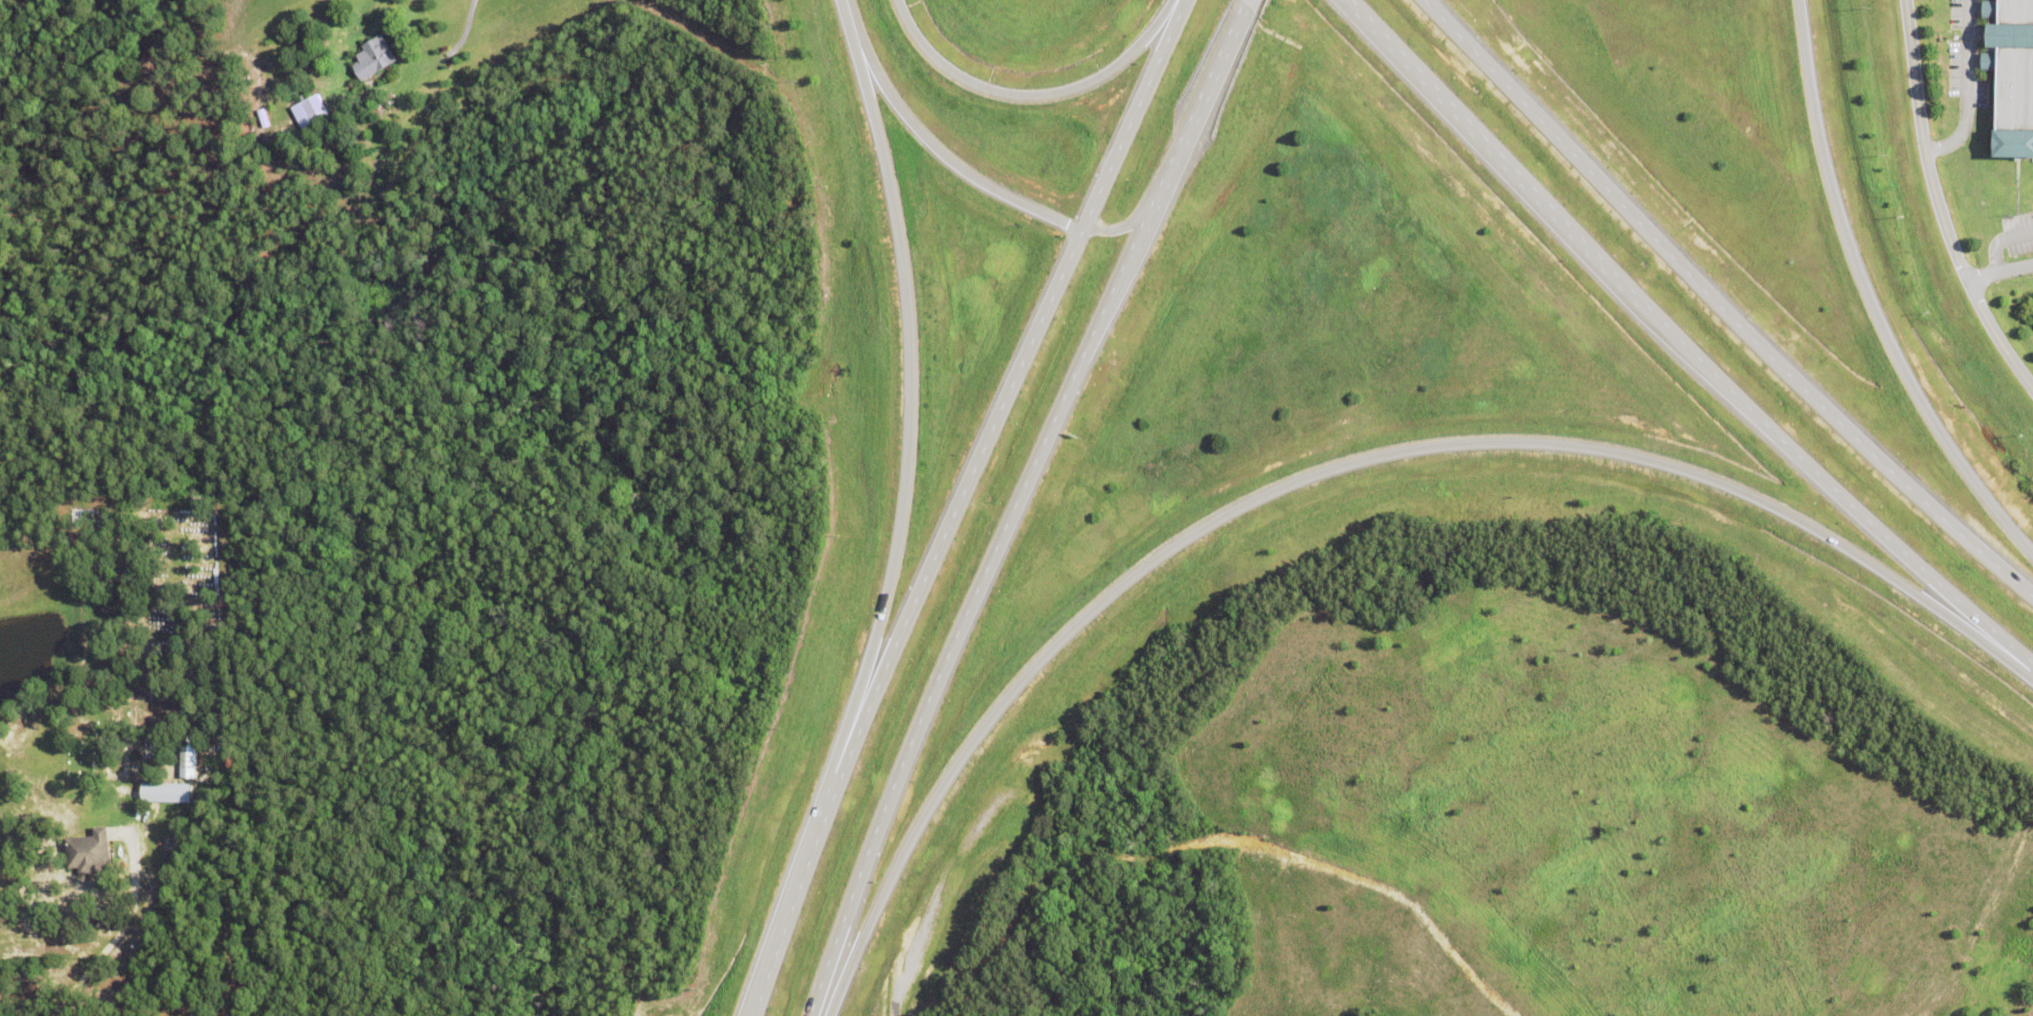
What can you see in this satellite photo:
road: (1238, 1)
road: (465, 23)
building: (374, 60)
building: (2010, 77)
building: (295, 87)
road: (1965, 88)
road: (1030, 98)
building: (309, 113)
road: (1131, 114)
road: (936, 152)
road: (1936, 207)
road: (1116, 227)
road: (1999, 274)
road: (1866, 299)
road: (1718, 308)
road: (1680, 344)
road: (908, 405)
road: (1327, 471)
road: (1012, 504)
road: (907, 619)
building: (161, 793)
building: (150, 813)
building: (166, 836)
building: (89, 855)
road: (932, 905)

